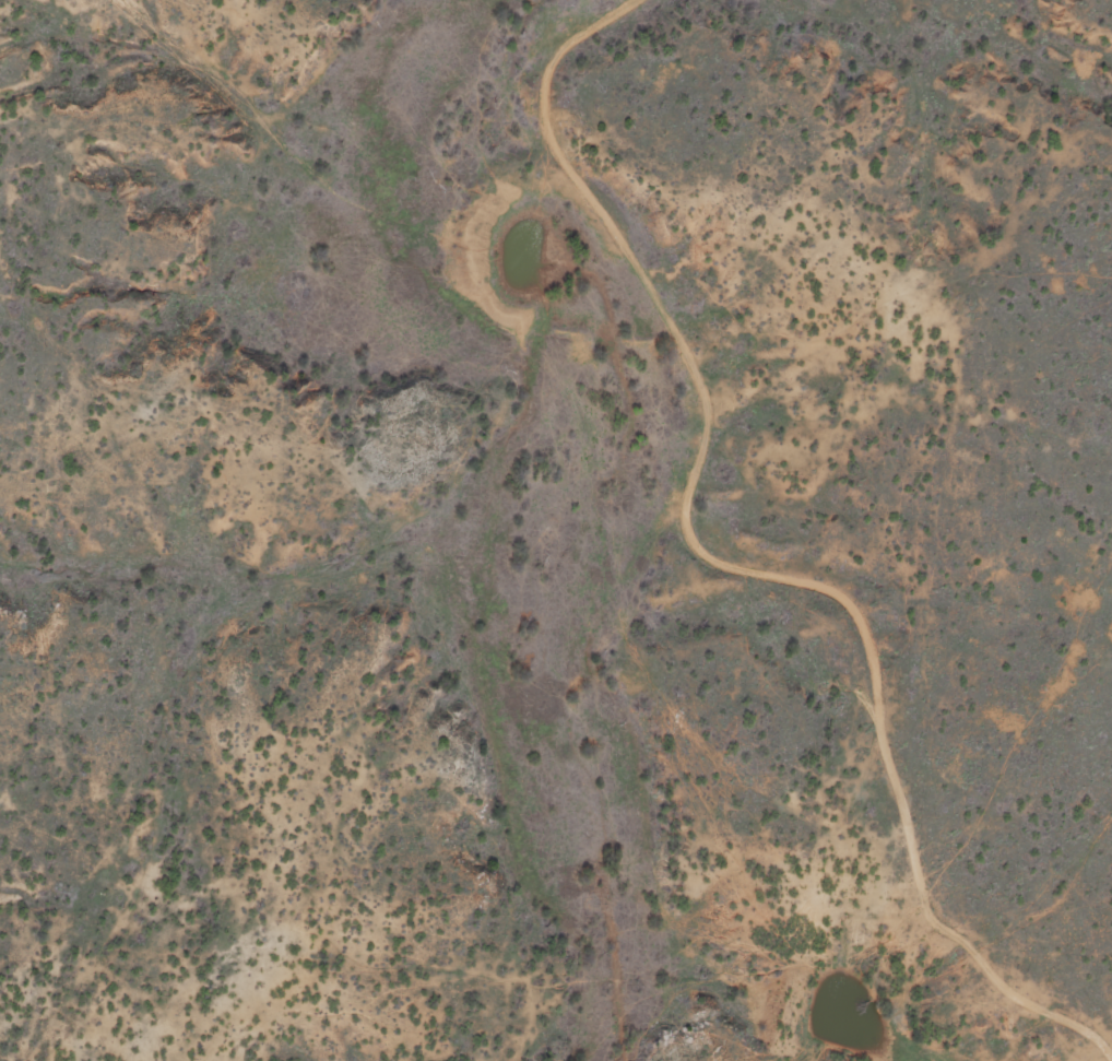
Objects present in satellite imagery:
road: (768, 552)

